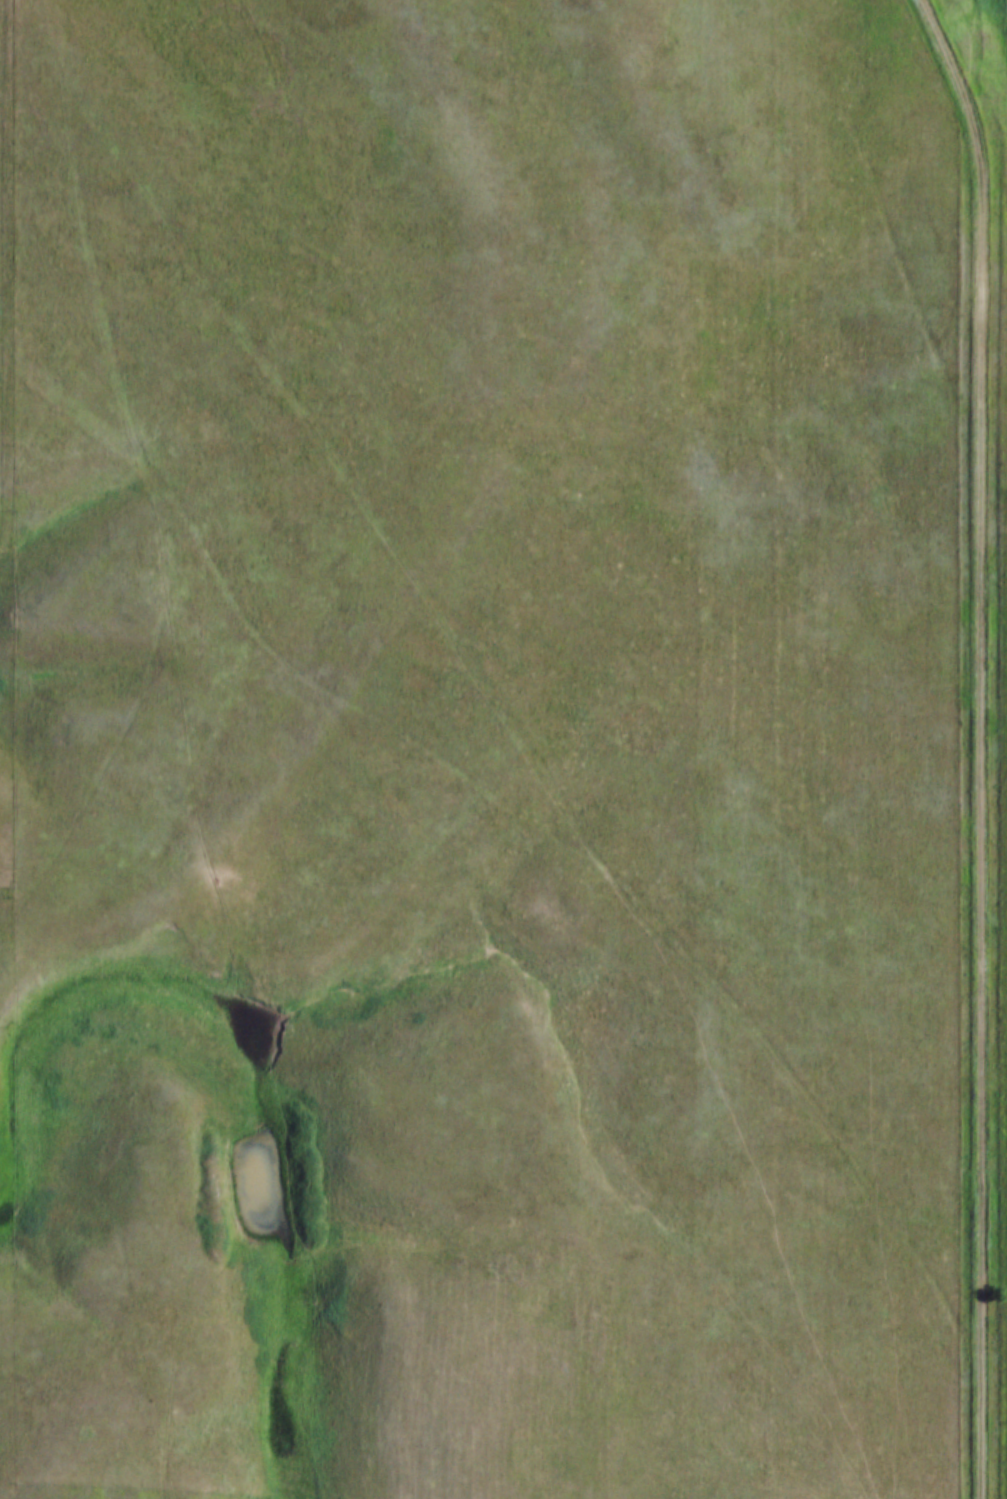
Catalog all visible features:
road: (980, 743)

